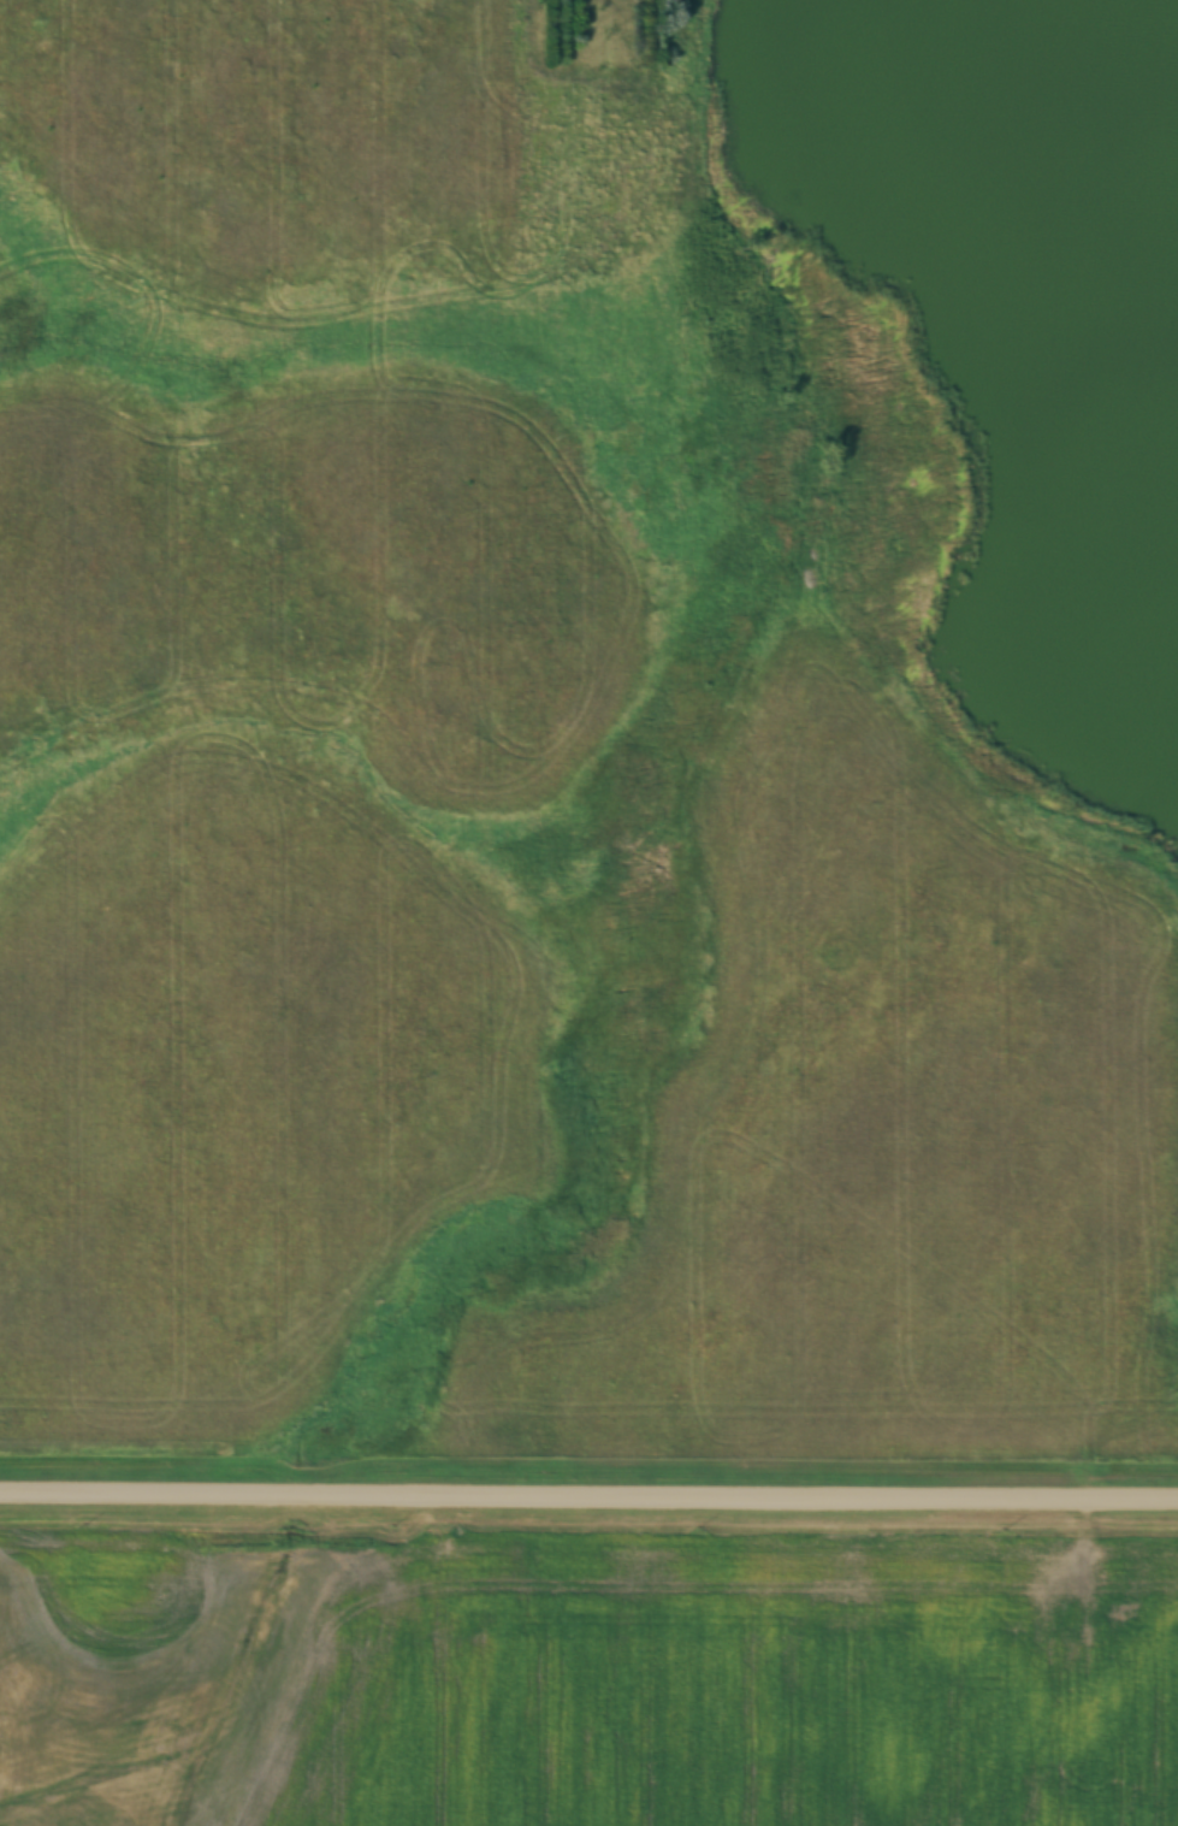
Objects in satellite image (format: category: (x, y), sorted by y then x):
road: (588, 1491)

